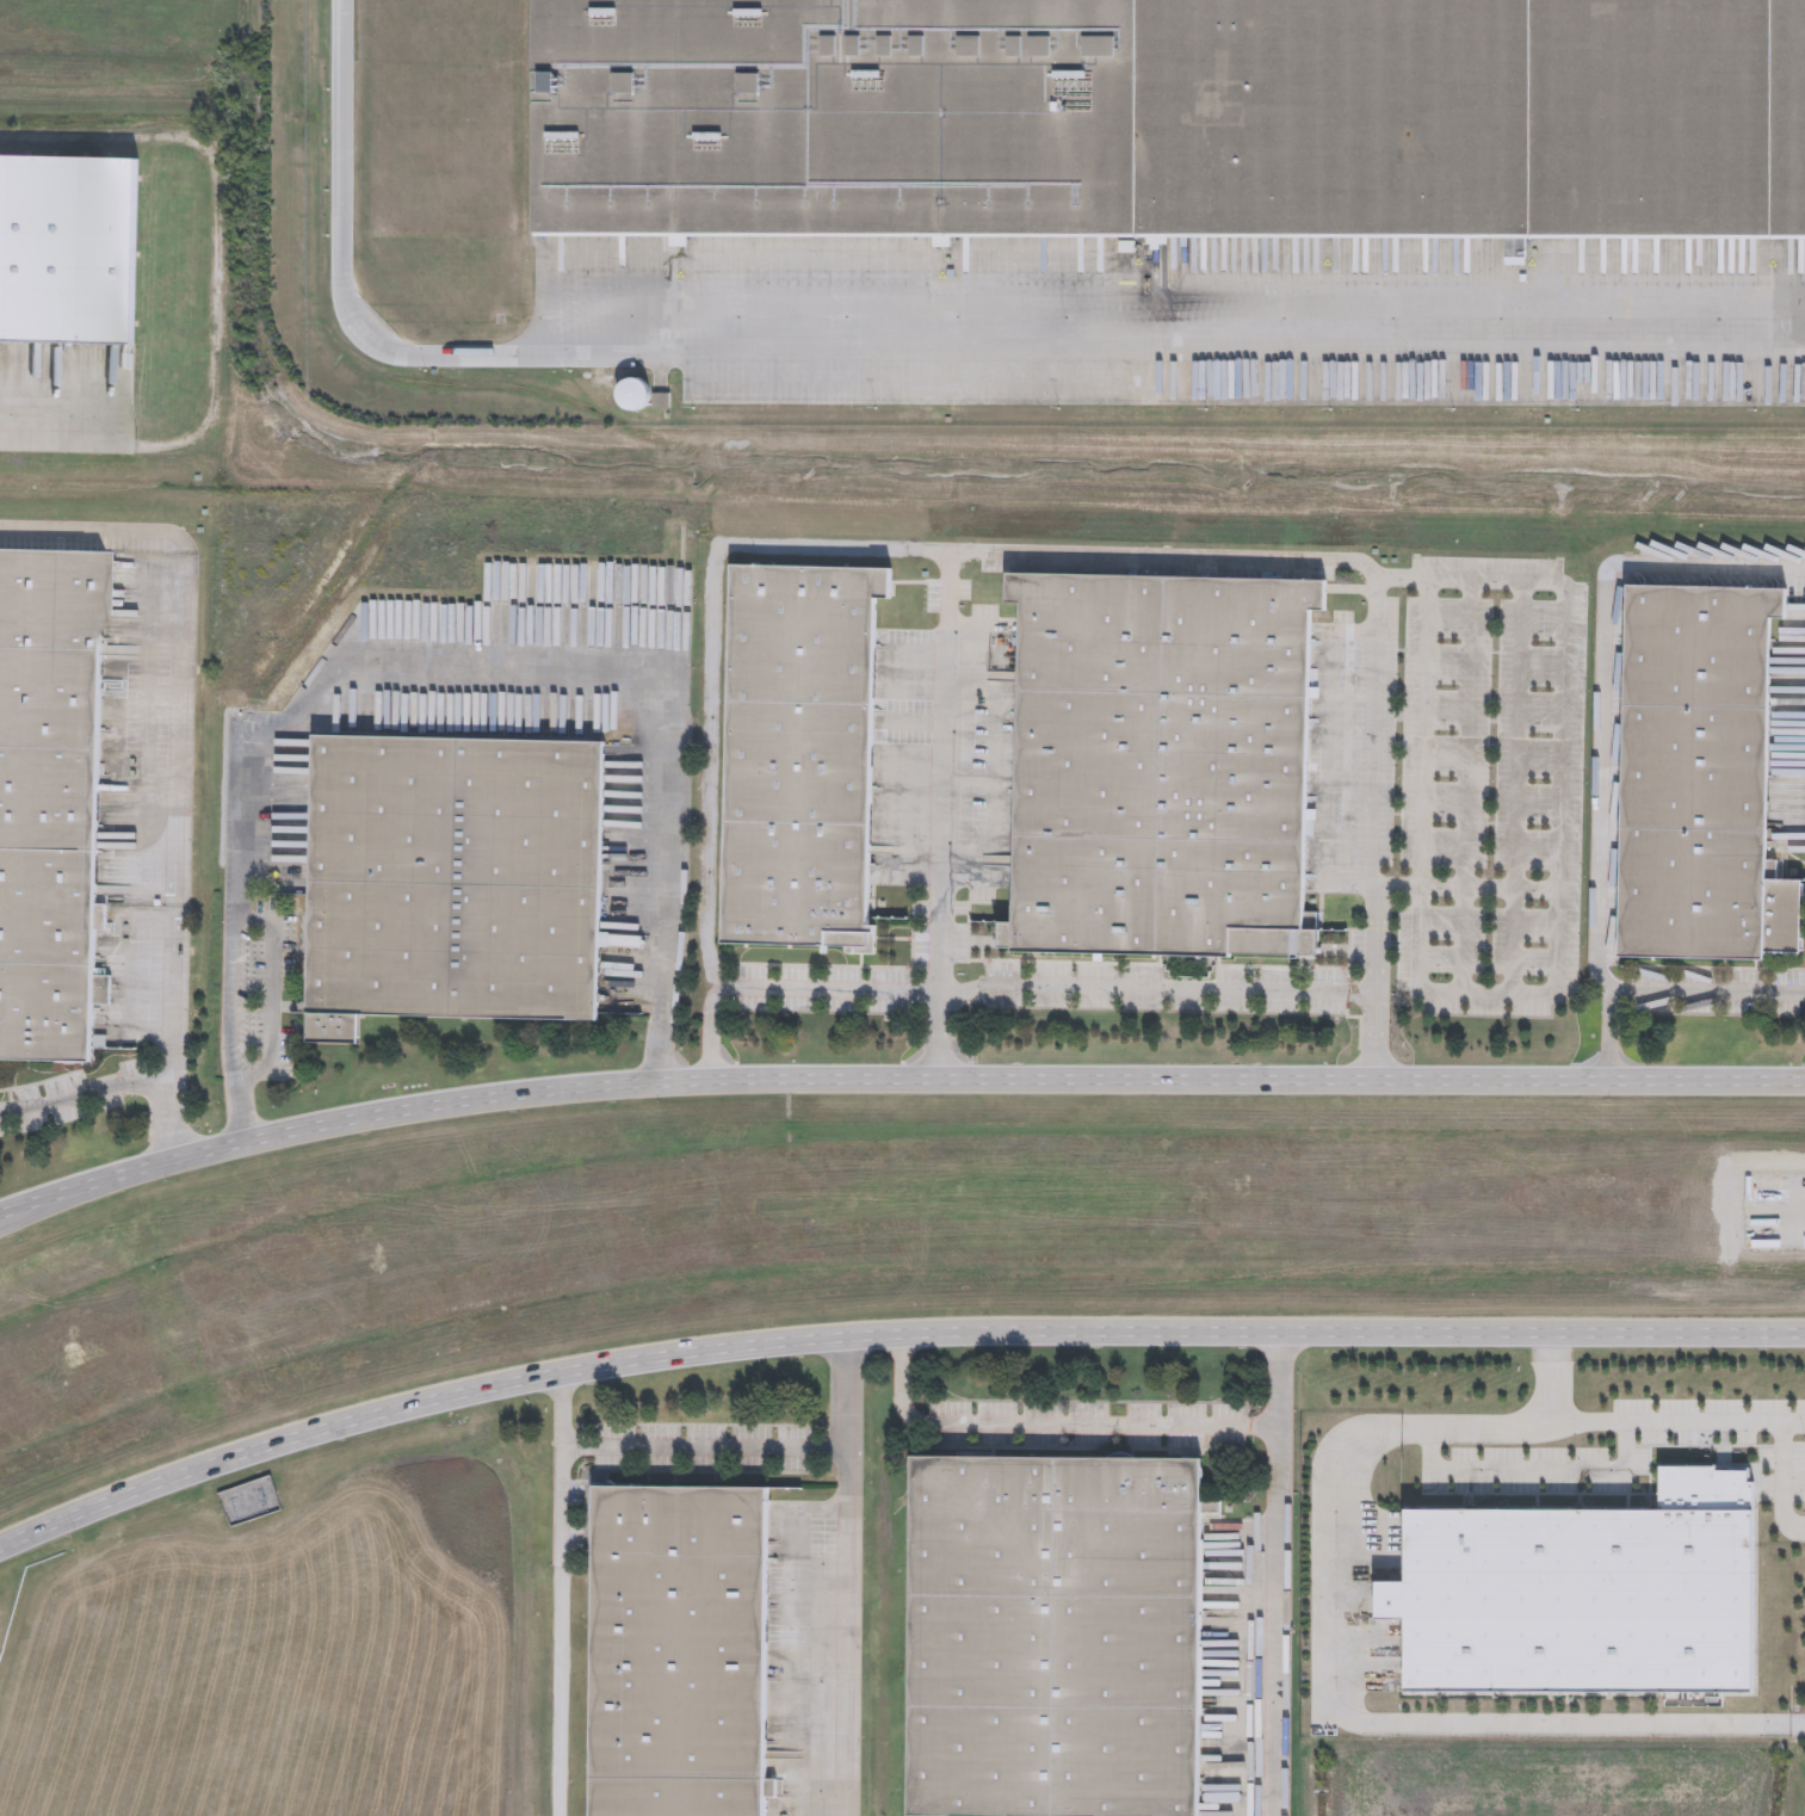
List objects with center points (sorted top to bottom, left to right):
building: (1167, 116)
building: (70, 248)
road: (910, 326)
building: (638, 396)
road: (37, 436)
road: (957, 556)
road: (710, 655)
road: (435, 661)
road: (177, 717)
road: (1602, 733)
parking lot: (1354, 753)
building: (802, 756)
building: (1164, 761)
road: (1564, 764)
building: (1694, 779)
parking lot: (1494, 787)
building: (50, 803)
building: (455, 879)
road: (1398, 889)
parking lot: (1166, 988)
road: (1055, 990)
road: (268, 994)
road: (1708, 997)
road: (948, 1033)
road: (894, 1079)
road: (84, 1094)
road: (173, 1118)
road: (886, 1330)
road: (1633, 1421)
road: (1051, 1423)
road: (703, 1447)
road: (1532, 1470)
road: (1784, 1480)
building: (253, 1502)
road: (1280, 1571)
road: (843, 1574)
building: (1584, 1590)
road: (561, 1593)
building: (1043, 1637)
building: (680, 1653)
road: (1342, 1701)

